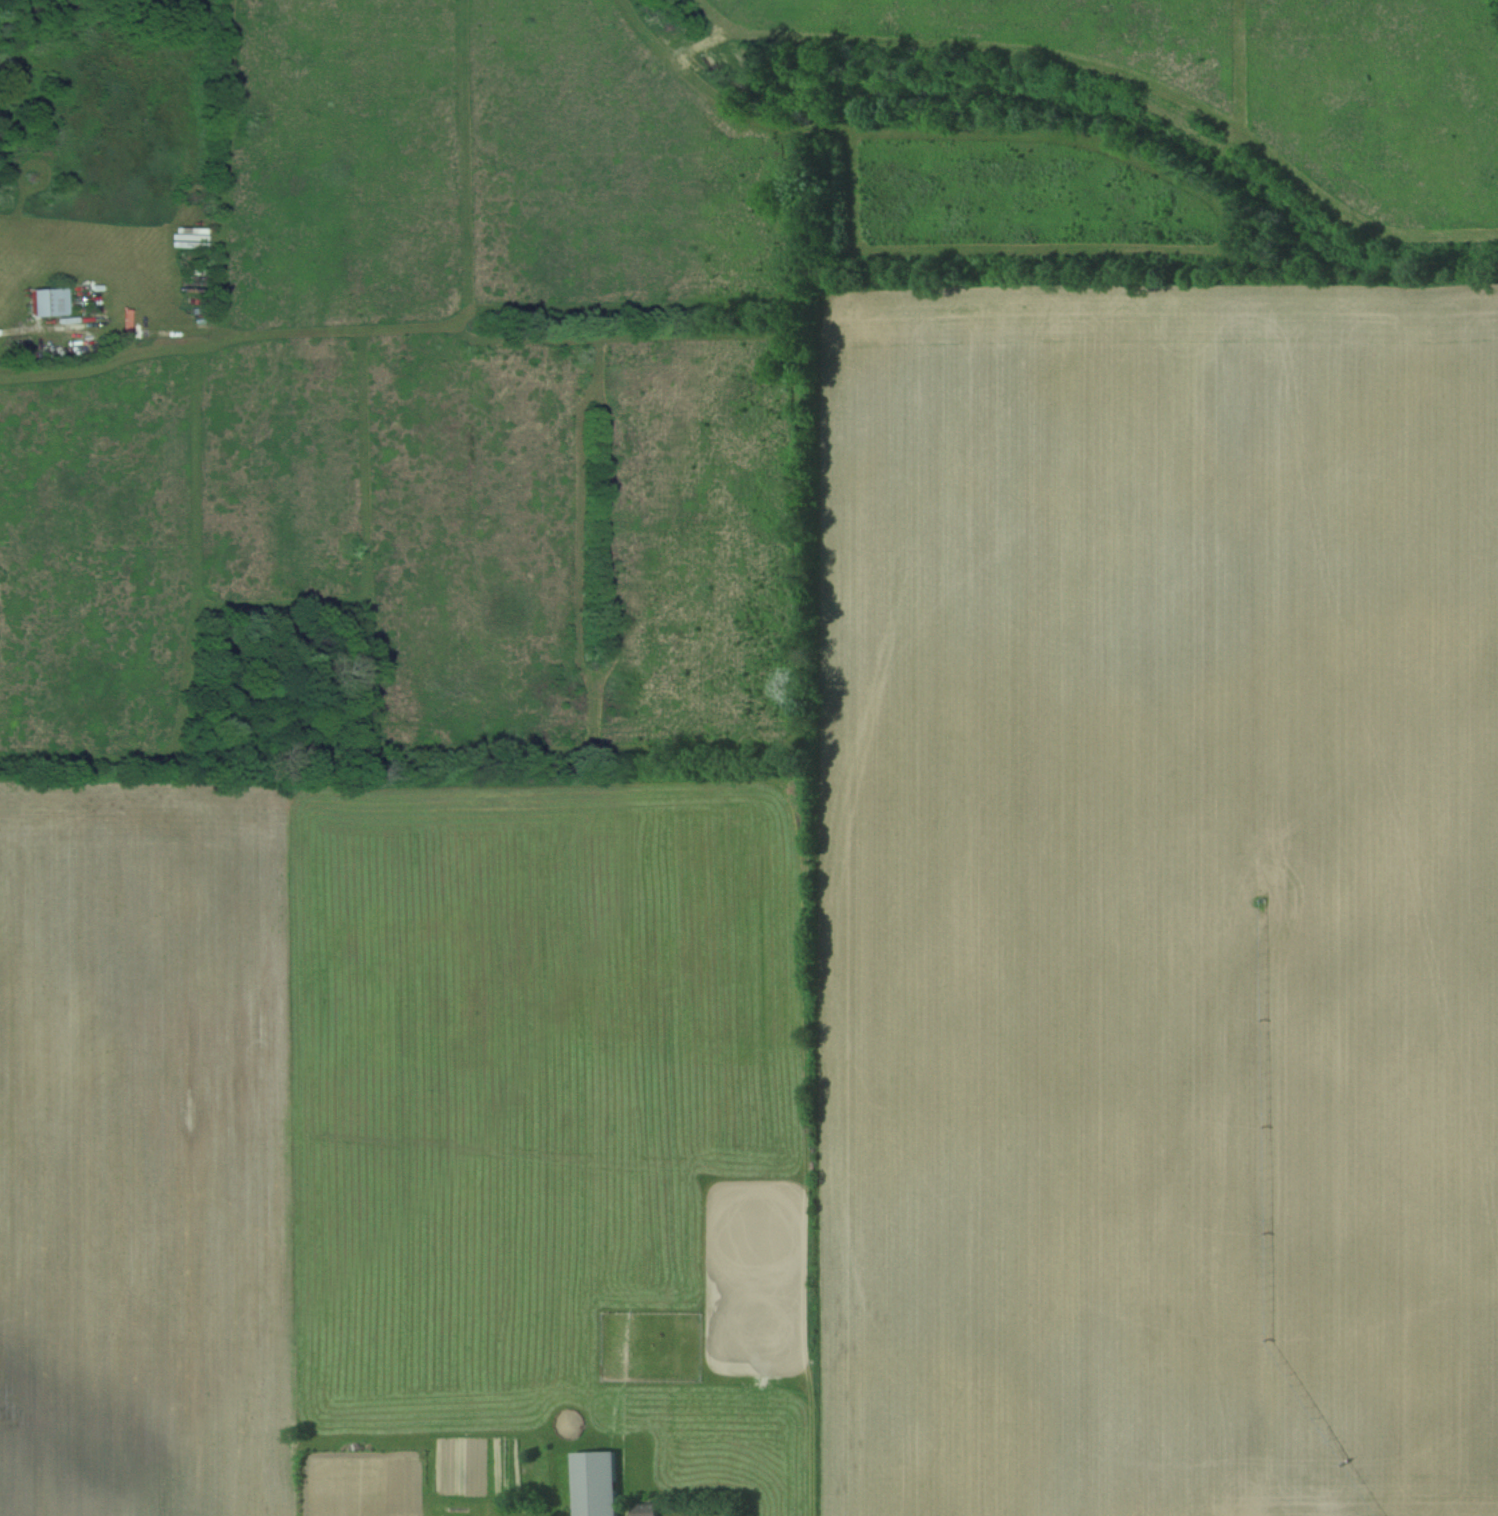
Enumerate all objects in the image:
building: (50, 302)
building: (593, 1483)
building: (642, 1509)

